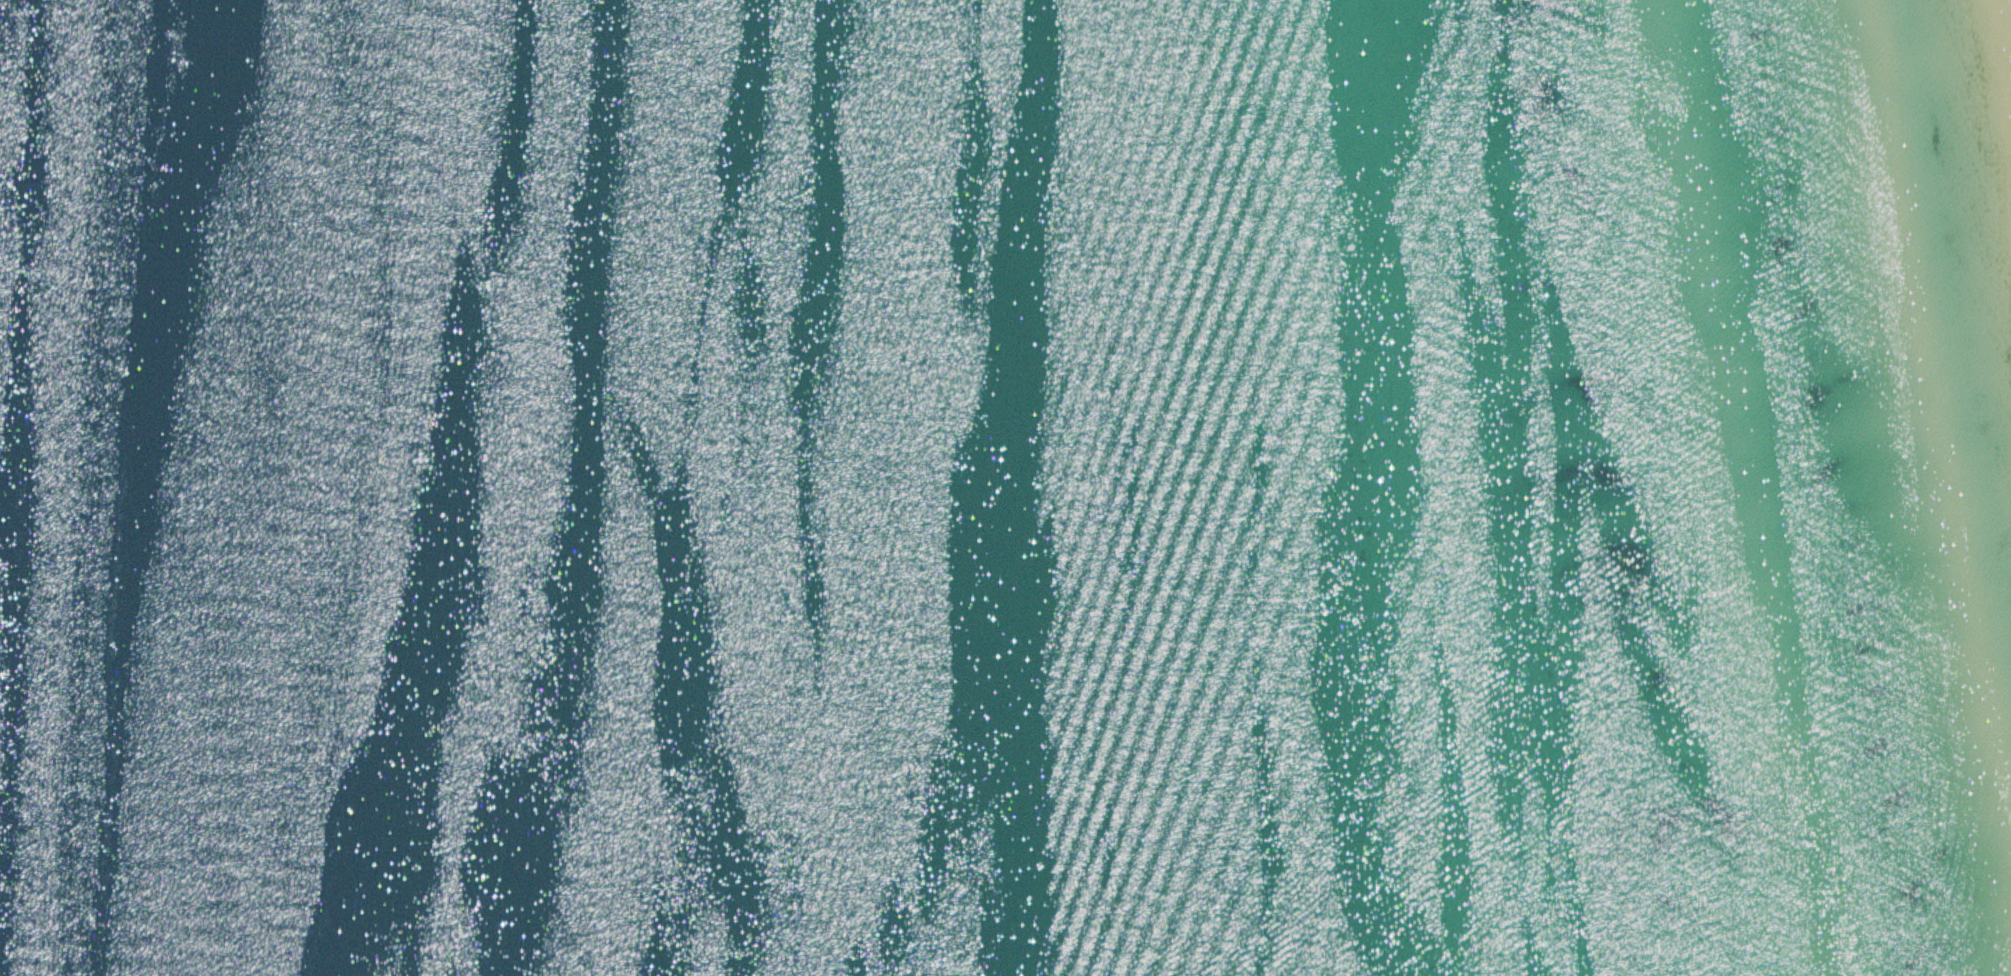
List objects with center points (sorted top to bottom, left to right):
park: (1993, 122)

